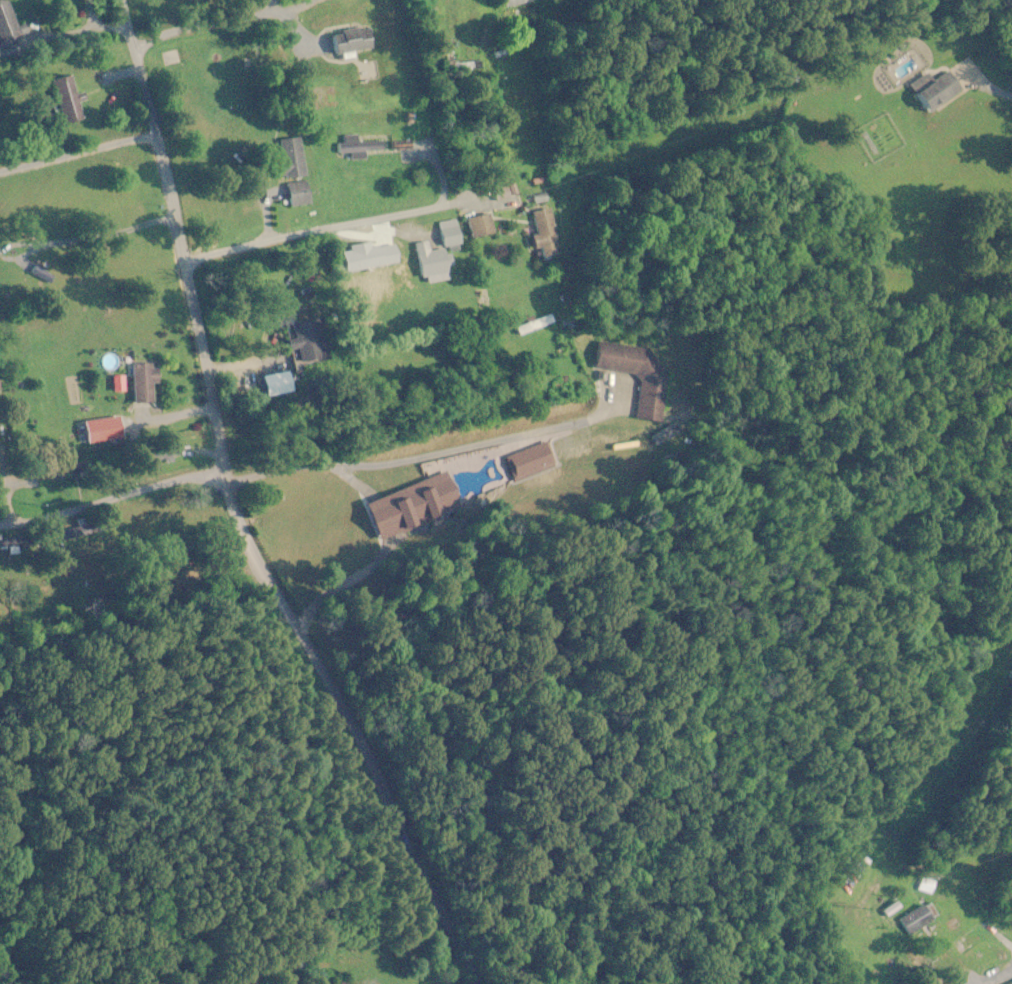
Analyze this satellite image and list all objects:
building: (512, 4)
road: (231, 21)
building: (7, 22)
building: (352, 41)
road: (996, 90)
building: (940, 94)
building: (66, 100)
building: (360, 147)
building: (291, 159)
building: (298, 195)
building: (482, 226)
road: (106, 233)
road: (303, 234)
building: (546, 234)
building: (439, 254)
building: (365, 264)
building: (398, 316)
building: (310, 341)
building: (145, 383)
building: (650, 397)
building: (617, 448)
road: (417, 458)
road: (186, 482)
building: (418, 503)
road: (240, 510)
building: (918, 919)
building: (1009, 983)

